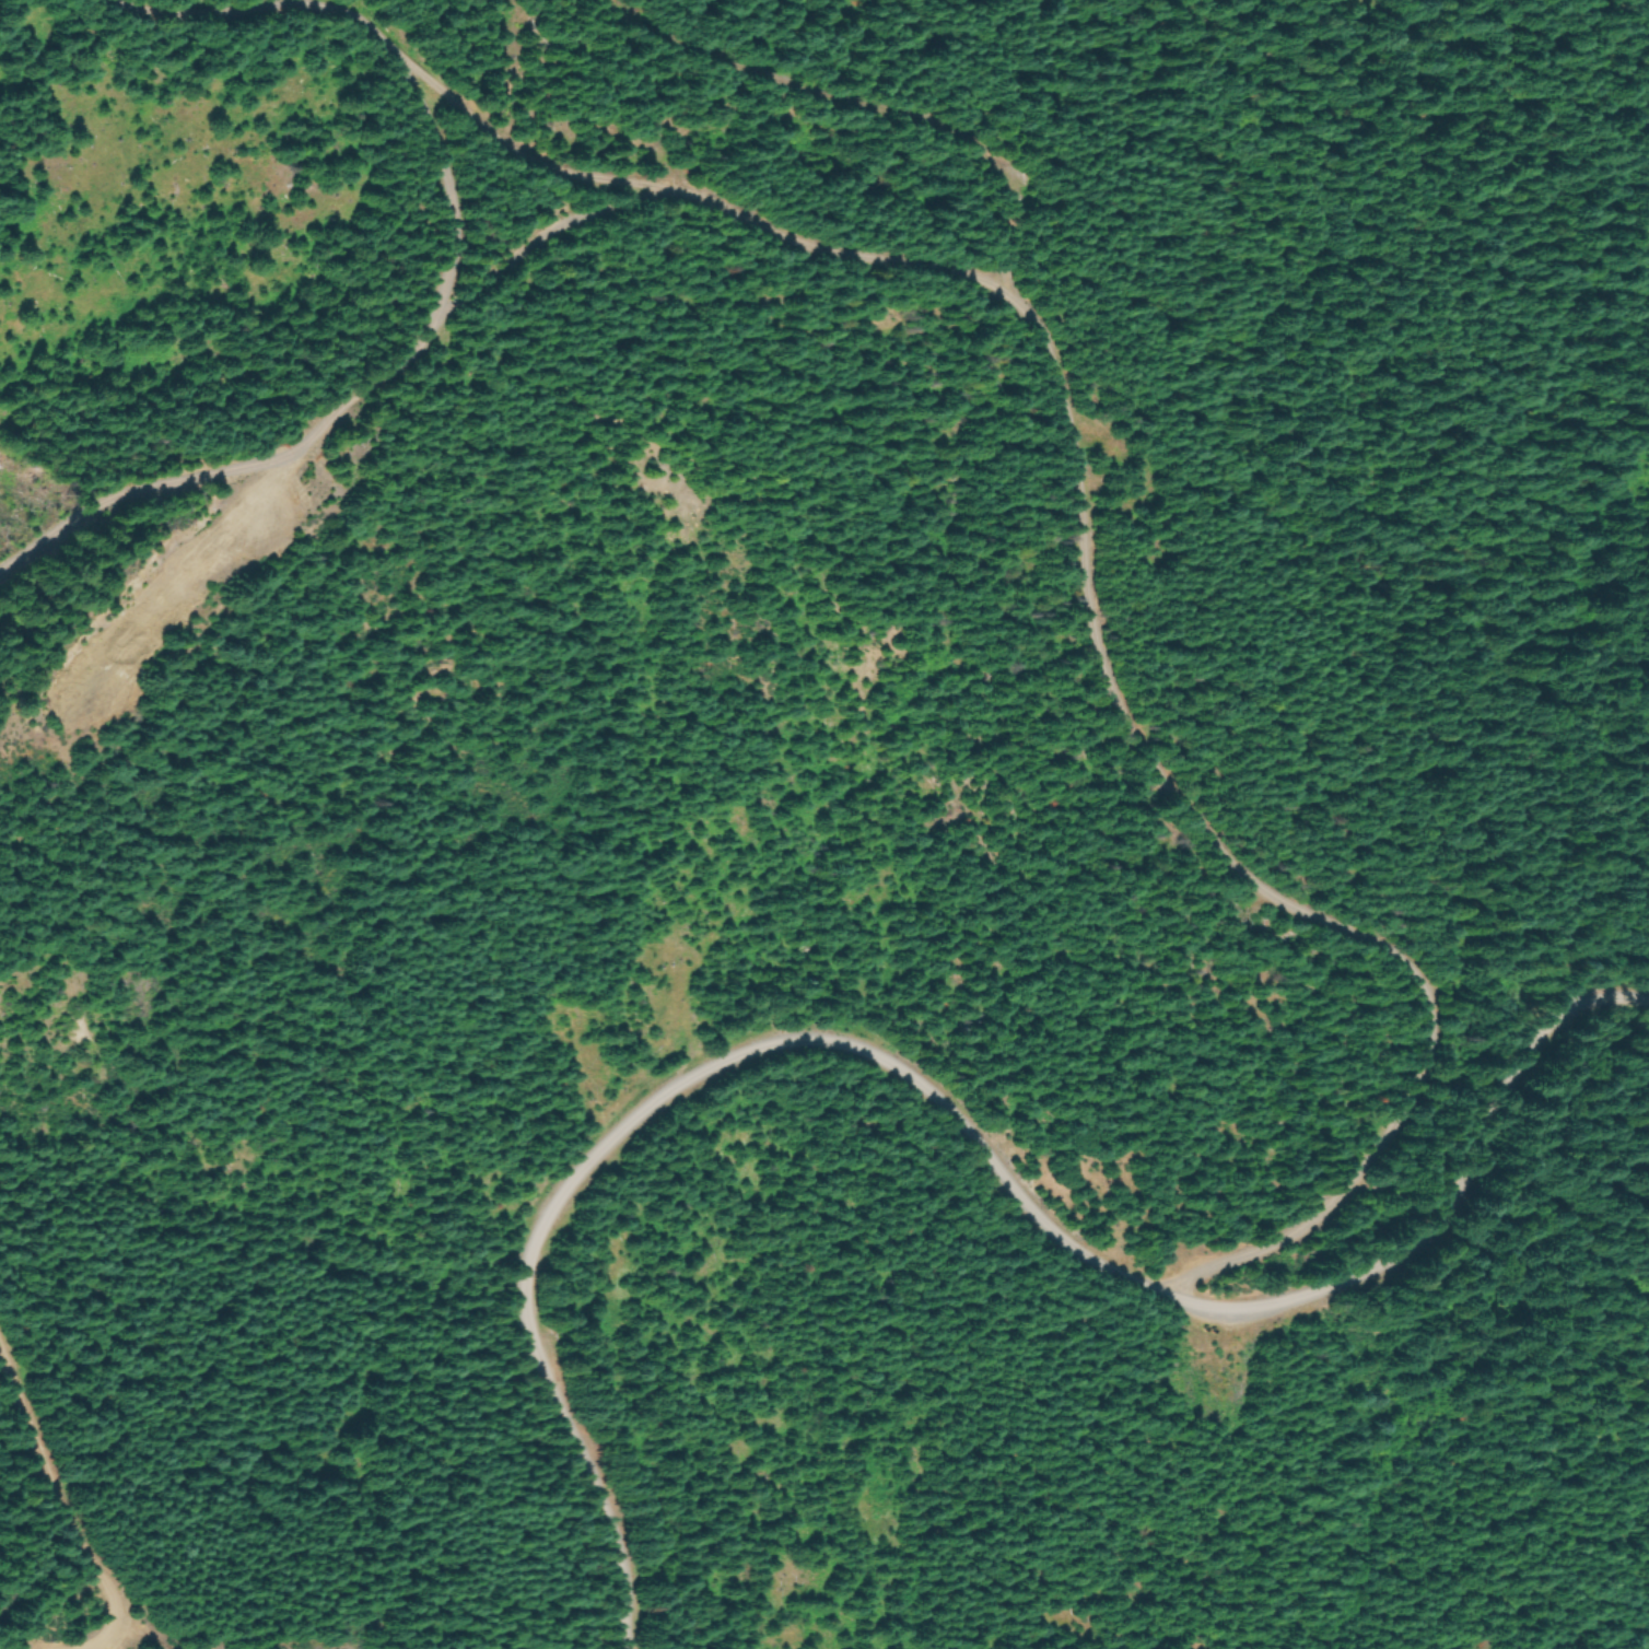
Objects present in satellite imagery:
road: (852, 105)
road: (549, 235)
road: (350, 404)
road: (1067, 440)
road: (940, 1110)
road: (69, 1488)

